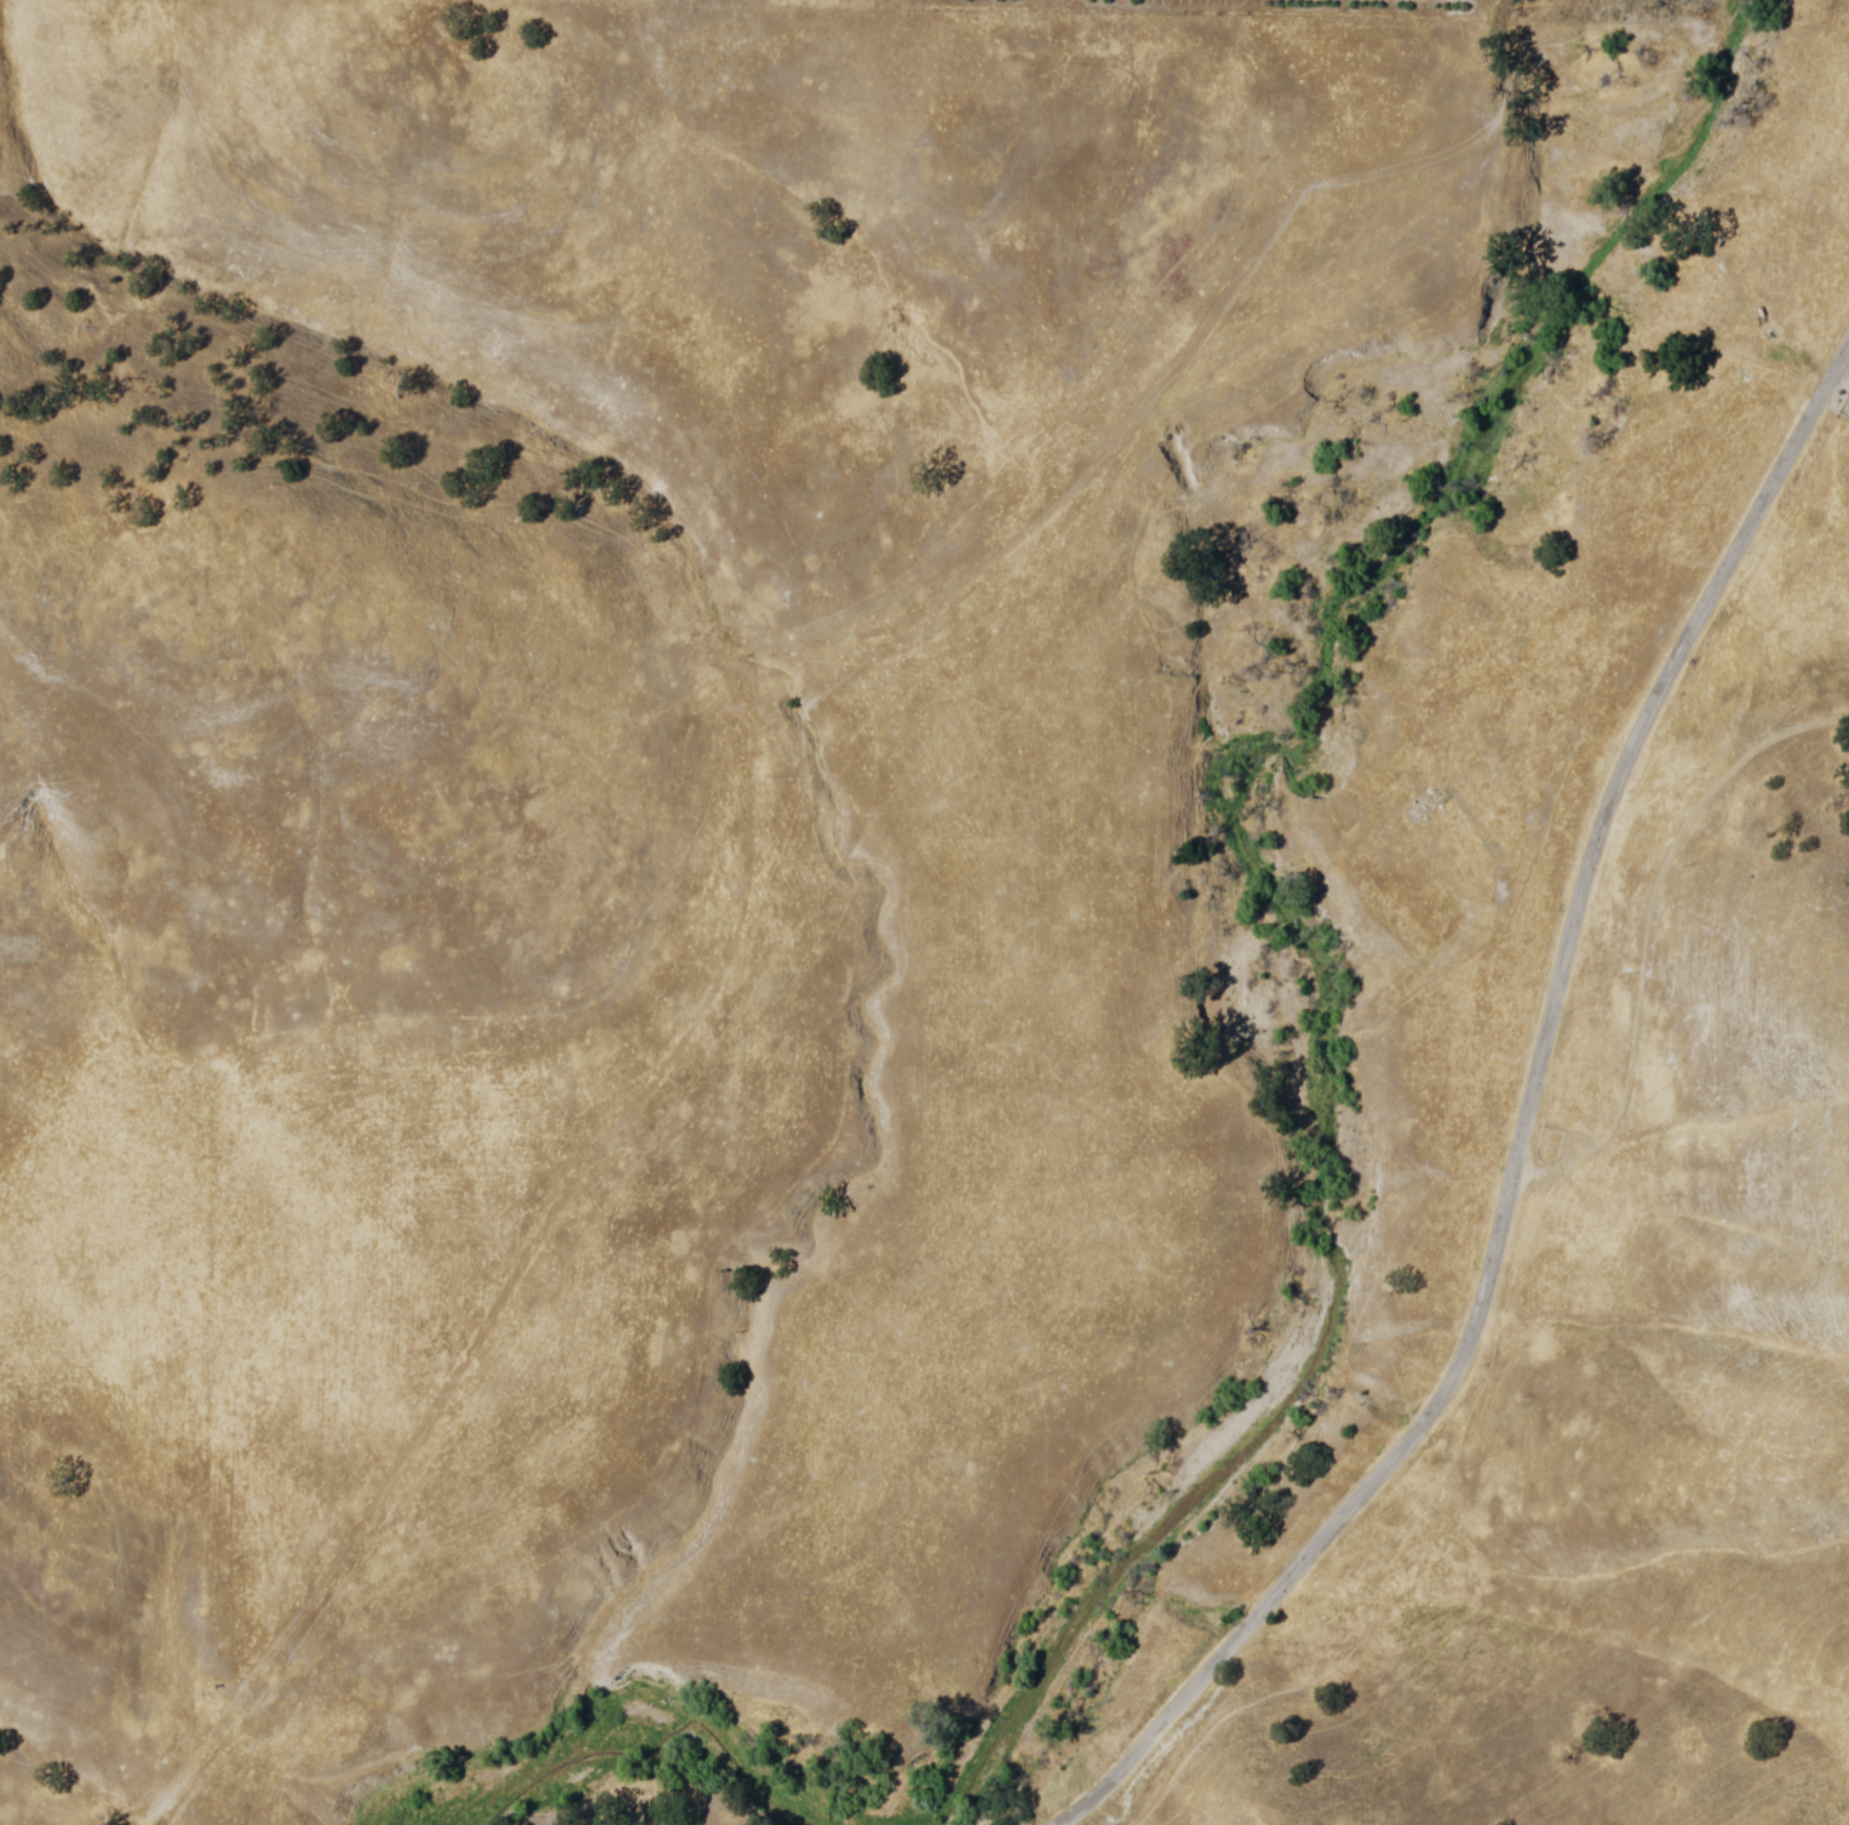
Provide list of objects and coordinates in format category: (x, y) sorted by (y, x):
road: (1848, 356)
road: (1521, 1136)

